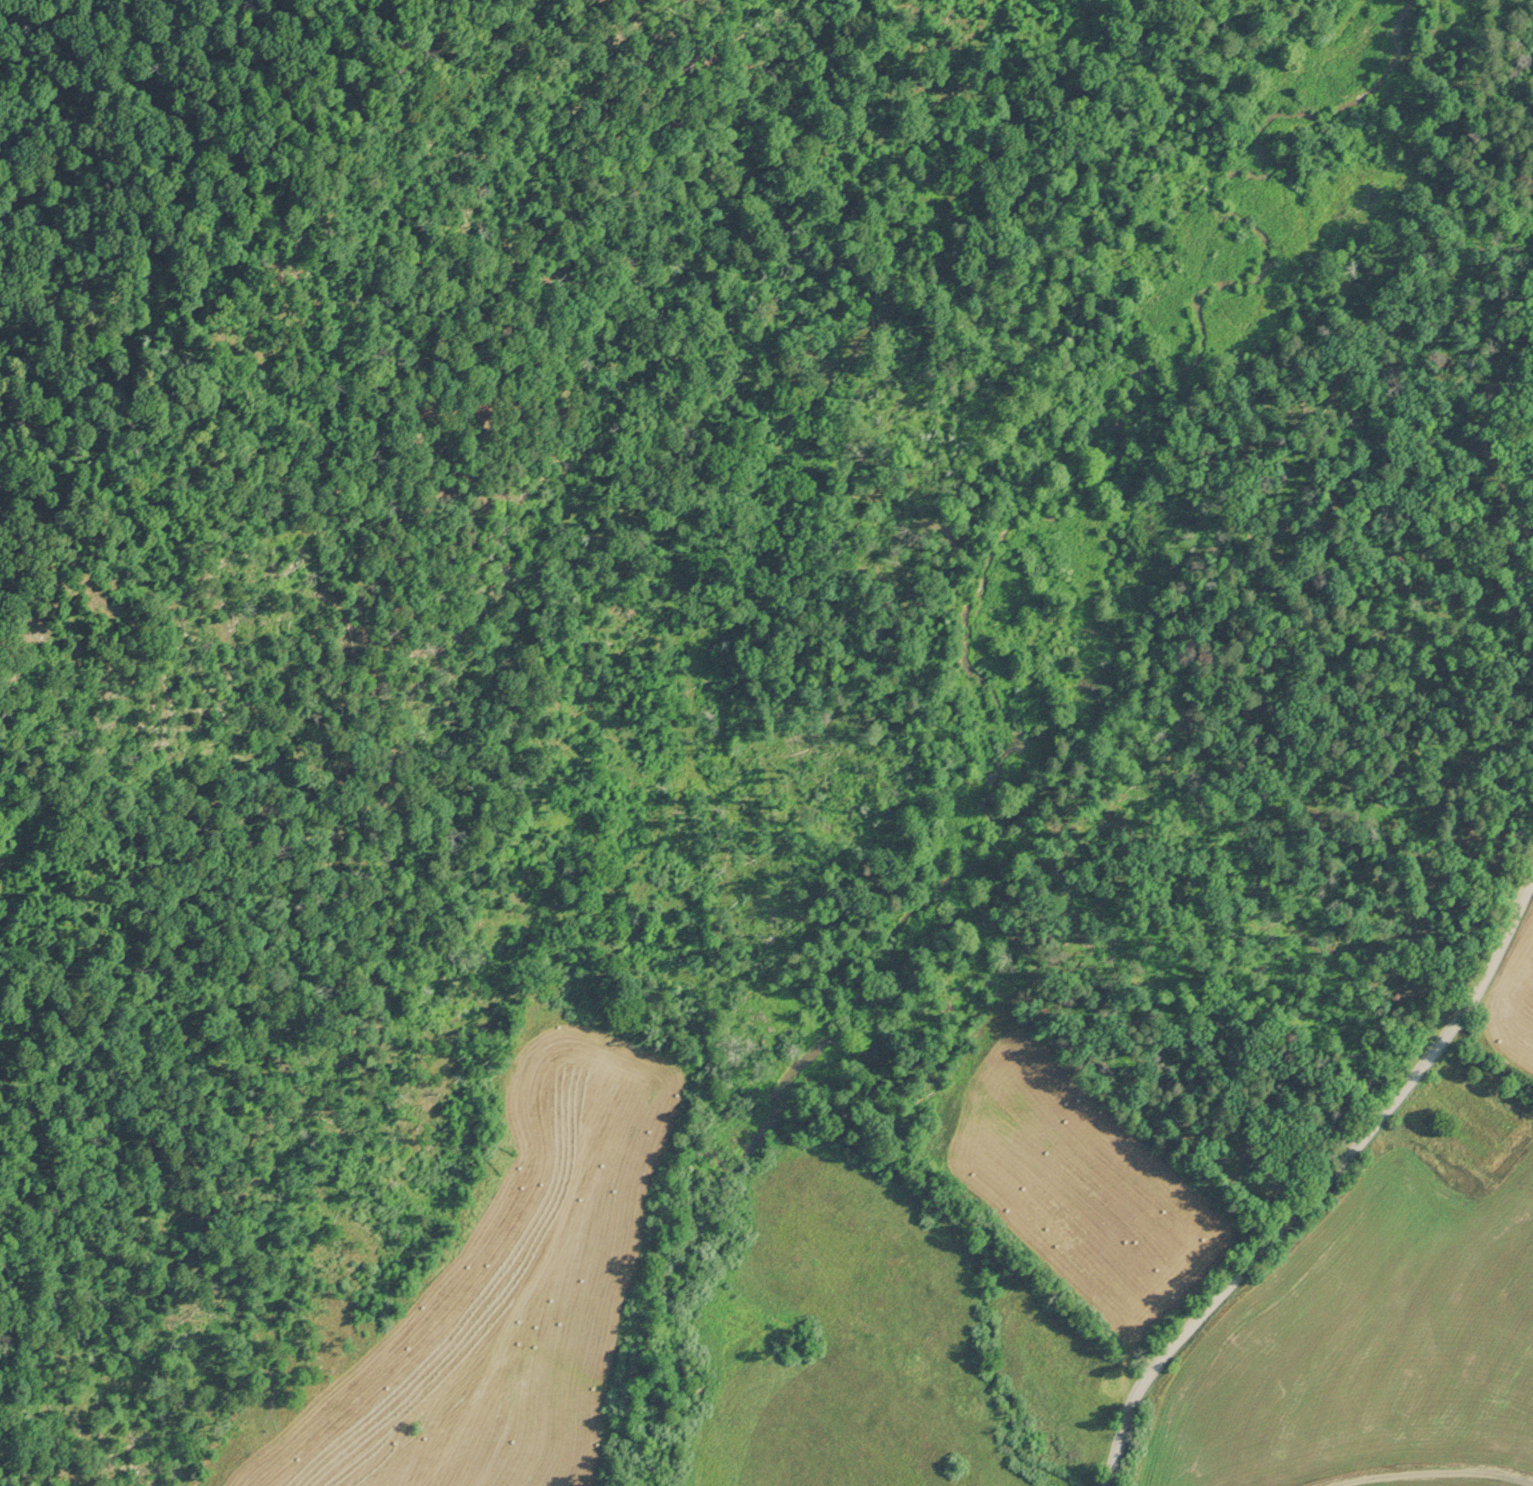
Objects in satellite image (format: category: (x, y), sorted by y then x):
road: (1320, 1185)

